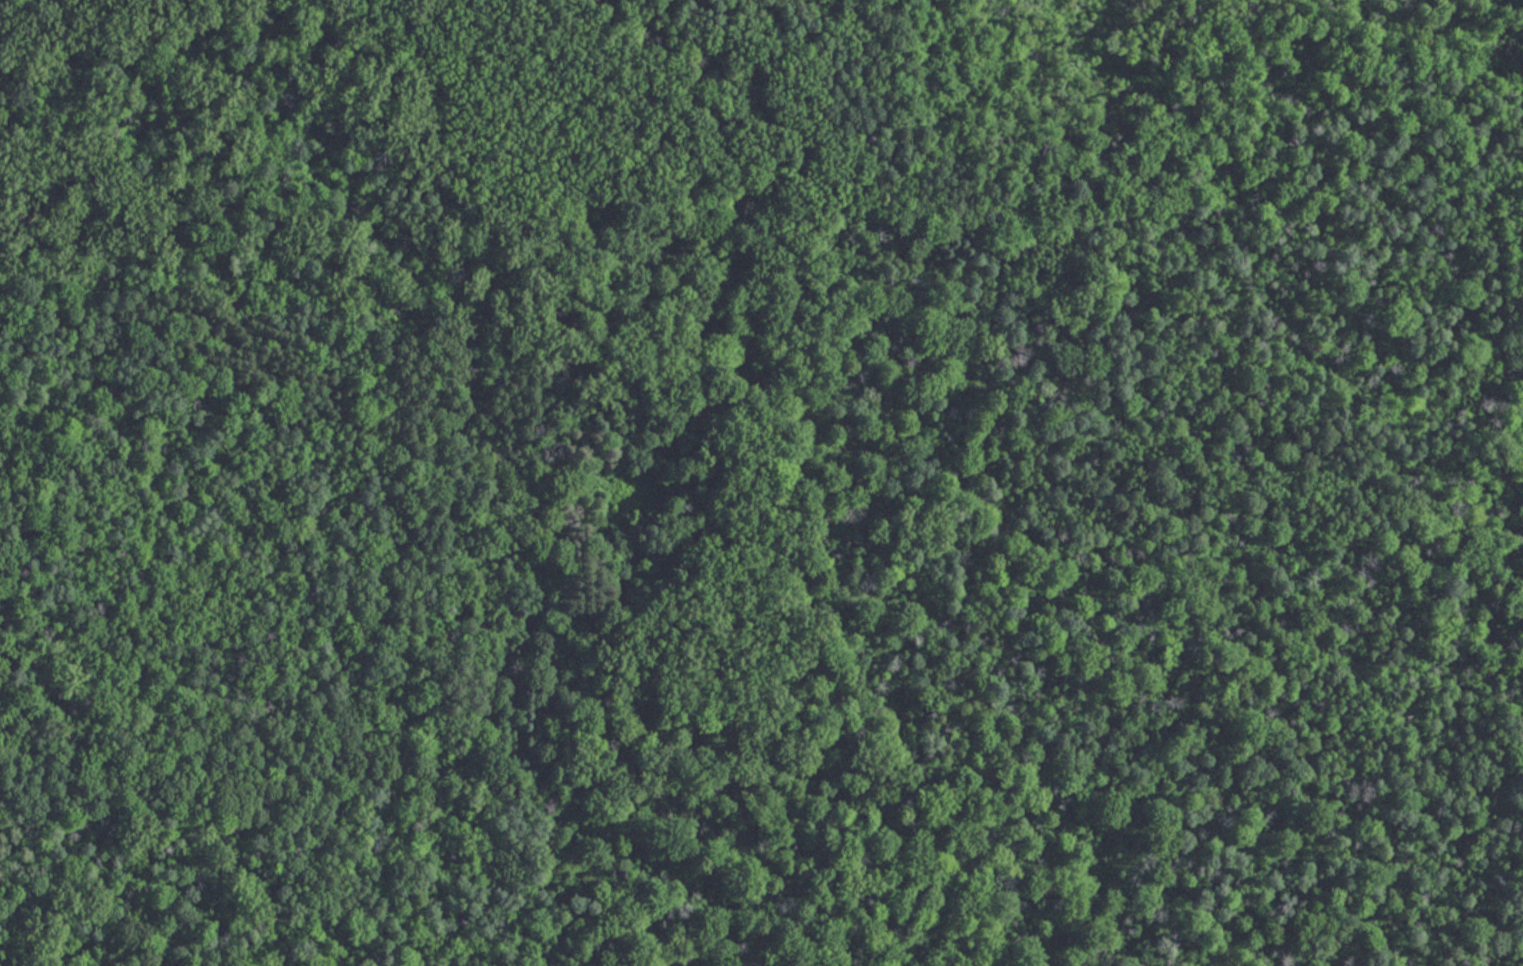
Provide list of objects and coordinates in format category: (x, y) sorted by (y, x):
park: (761, 483)

